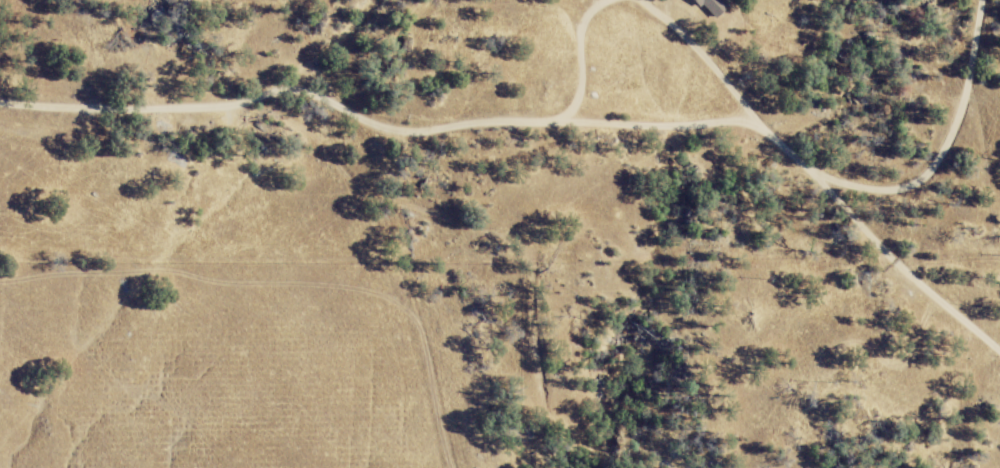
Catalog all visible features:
building: (715, 7)
road: (709, 56)
road: (584, 62)
road: (538, 120)
road: (942, 149)

